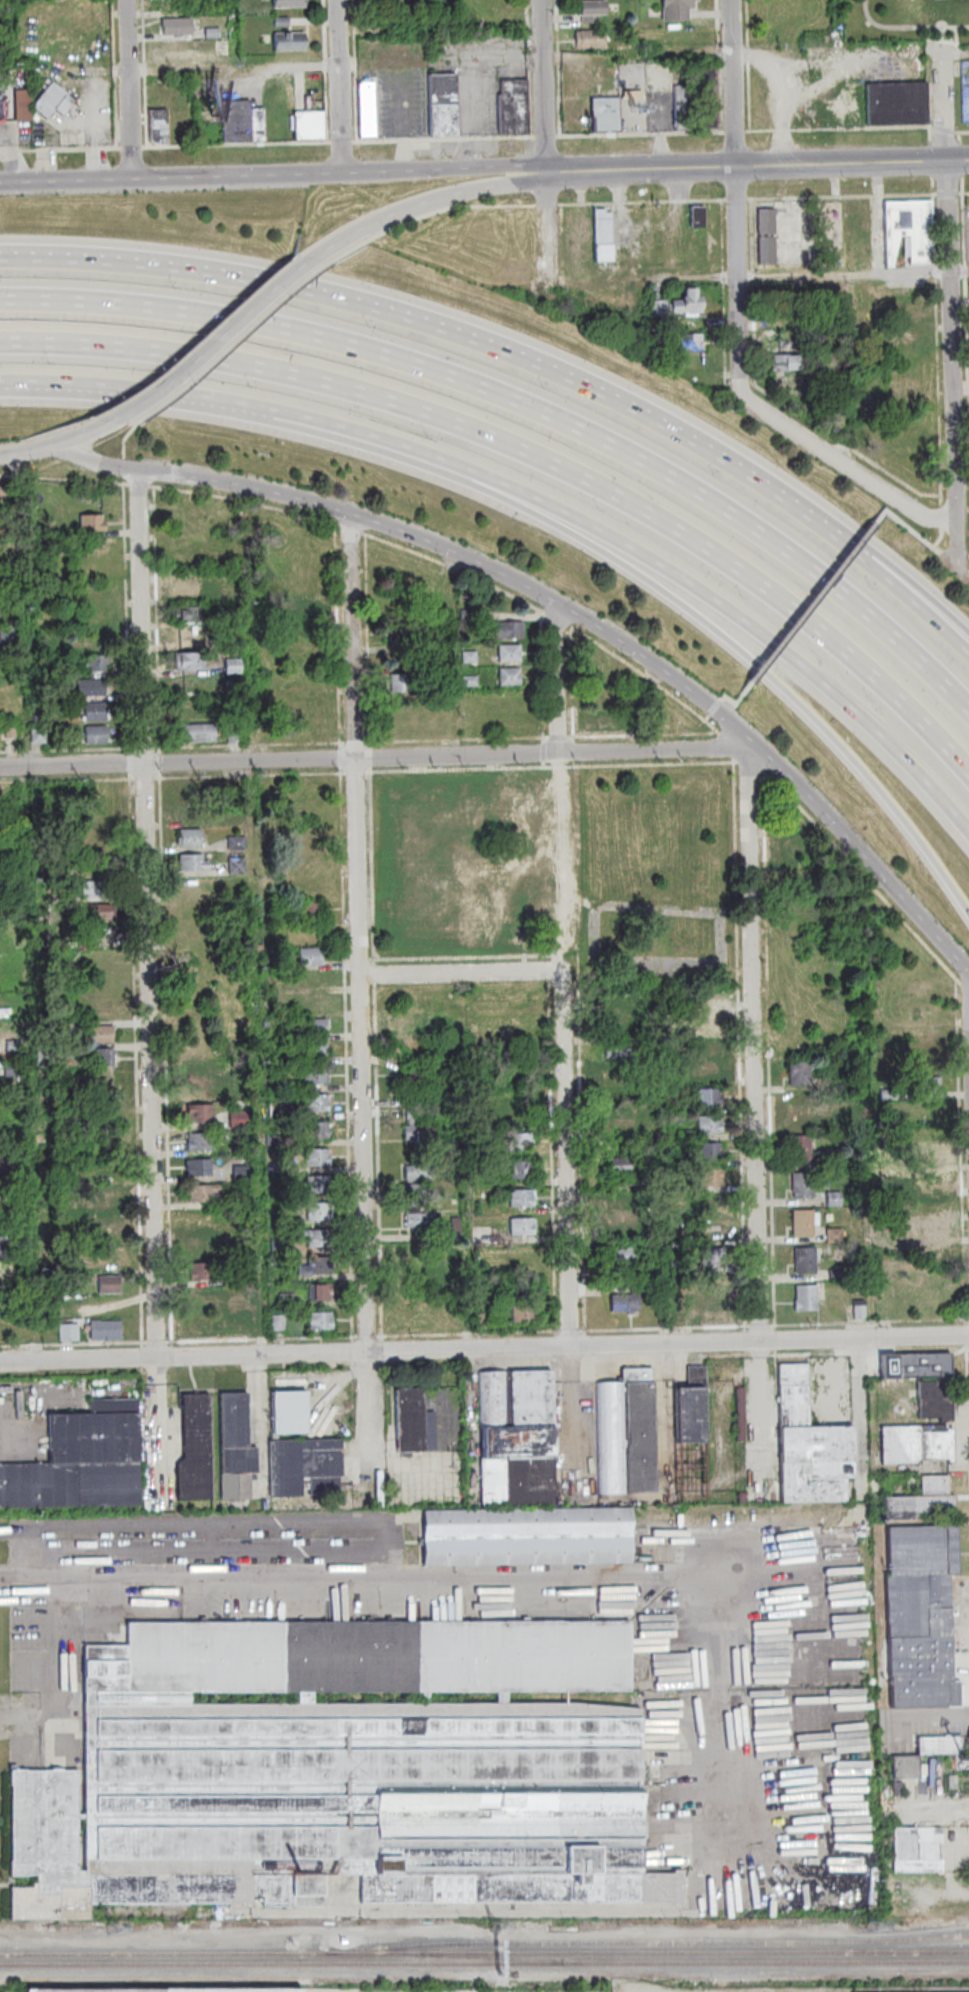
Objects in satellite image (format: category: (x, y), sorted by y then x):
building: (288, 3)
building: (676, 8)
building: (589, 9)
building: (281, 21)
park: (906, 21)
building: (177, 26)
road: (908, 28)
building: (212, 33)
building: (590, 38)
building: (289, 40)
road: (938, 41)
road: (957, 42)
road: (956, 56)
road: (749, 65)
road: (719, 66)
road: (233, 68)
road: (559, 68)
road: (529, 69)
road: (355, 71)
road: (545, 84)
road: (339, 86)
road: (127, 89)
building: (633, 94)
building: (708, 97)
building: (52, 100)
parking lot: (403, 102)
building: (827, 102)
building: (442, 104)
building: (896, 104)
building: (513, 107)
building: (681, 107)
building: (0, 110)
building: (367, 110)
building: (605, 114)
road: (404, 120)
building: (236, 121)
building: (309, 121)
building: (257, 124)
building: (158, 126)
road: (839, 129)
road: (943, 130)
road: (735, 132)
road: (962, 132)
road: (640, 134)
road: (546, 137)
road: (444, 139)
road: (342, 142)
road: (165, 145)
road: (14, 156)
road: (755, 164)
road: (271, 175)
road: (714, 199)
road: (419, 203)
road: (737, 213)
building: (697, 217)
building: (766, 221)
parking lot: (968, 224)
building: (602, 235)
building: (908, 235)
building: (766, 250)
road: (960, 272)
road: (844, 275)
building: (677, 305)
building: (787, 314)
road: (952, 316)
road: (424, 322)
road: (218, 336)
building: (789, 338)
building: (904, 338)
building: (690, 342)
building: (786, 363)
road: (961, 387)
road: (100, 388)
road: (526, 405)
road: (67, 439)
road: (530, 454)
road: (859, 475)
building: (5, 492)
building: (194, 520)
building: (91, 523)
road: (398, 529)
road: (941, 534)
road: (919, 535)
road: (622, 536)
building: (187, 546)
road: (892, 566)
road: (638, 572)
road: (891, 580)
road: (964, 581)
building: (186, 589)
building: (233, 599)
road: (814, 603)
building: (304, 610)
building: (468, 614)
building: (187, 615)
building: (424, 627)
building: (508, 630)
building: (400, 633)
building: (7, 634)
building: (189, 638)
building: (94, 640)
building: (34, 646)
building: (509, 654)
building: (469, 657)
building: (188, 661)
building: (97, 663)
building: (232, 667)
building: (509, 677)
road: (554, 677)
building: (470, 681)
building: (399, 683)
building: (229, 684)
building: (90, 688)
building: (606, 696)
road: (728, 697)
building: (509, 698)
building: (303, 708)
building: (94, 712)
road: (709, 715)
building: (39, 720)
building: (607, 720)
building: (9, 730)
building: (197, 733)
building: (95, 735)
building: (38, 736)
building: (234, 736)
road: (379, 757)
building: (534, 804)
building: (190, 814)
building: (310, 818)
building: (236, 821)
road: (846, 836)
building: (188, 839)
building: (92, 842)
building: (236, 844)
building: (795, 847)
road: (557, 861)
building: (192, 863)
building: (235, 866)
building: (418, 868)
building: (94, 890)
building: (99, 910)
building: (309, 912)
road: (356, 933)
building: (311, 958)
road: (456, 973)
building: (310, 979)
road: (147, 987)
building: (623, 1014)
building: (706, 1019)
building: (409, 1024)
building: (445, 1028)
building: (313, 1029)
building: (102, 1035)
building: (709, 1044)
building: (13, 1046)
building: (619, 1049)
road: (756, 1049)
building: (313, 1052)
building: (102, 1058)
building: (926, 1061)
building: (12, 1069)
building: (709, 1069)
building: (517, 1072)
building: (800, 1074)
building: (316, 1077)
building: (619, 1078)
building: (197, 1079)
building: (416, 1082)
building: (280, 1086)
building: (928, 1086)
building: (889, 1095)
building: (708, 1098)
building: (411, 1102)
building: (316, 1104)
building: (277, 1109)
building: (798, 1112)
building: (519, 1114)
building: (198, 1115)
building: (239, 1120)
building: (617, 1123)
building: (488, 1125)
building: (709, 1125)
building: (830, 1125)
building: (94, 1129)
building: (416, 1129)
building: (317, 1131)
building: (685, 1136)
building: (273, 1141)
building: (520, 1142)
building: (199, 1143)
building: (800, 1149)
building: (710, 1152)
road: (564, 1157)
building: (927, 1157)
building: (15, 1158)
building: (317, 1158)
building: (503, 1164)
building: (622, 1166)
building: (199, 1168)
building: (520, 1171)
building: (419, 1172)
building: (241, 1174)
building: (711, 1178)
building: (925, 1182)
building: (317, 1185)
building: (802, 1186)
building: (418, 1189)
building: (202, 1194)
building: (619, 1195)
building: (522, 1199)
building: (834, 1200)
building: (237, 1202)
building: (107, 1204)
building: (712, 1205)
building: (319, 1212)
building: (623, 1217)
building: (420, 1222)
building: (804, 1223)
building: (522, 1227)
building: (929, 1230)
building: (109, 1231)
building: (453, 1231)
building: (834, 1236)
building: (314, 1238)
building: (19, 1239)
building: (201, 1247)
building: (278, 1247)
building: (236, 1253)
building: (627, 1256)
building: (712, 1258)
building: (806, 1261)
building: (678, 1265)
building: (317, 1268)
building: (419, 1269)
building: (202, 1273)
building: (232, 1279)
building: (108, 1285)
building: (320, 1293)
building: (201, 1296)
building: (806, 1299)
building: (287, 1301)
building: (626, 1303)
building: (859, 1310)
building: (713, 1312)
building: (523, 1314)
building: (321, 1322)
building: (480, 1322)
building: (201, 1324)
building: (278, 1325)
building: (105, 1331)
building: (68, 1333)
road: (484, 1348)
building: (916, 1367)
road: (572, 1400)
building: (936, 1402)
building: (691, 1409)
road: (760, 1411)
road: (369, 1413)
building: (739, 1413)
building: (290, 1415)
building: (413, 1424)
building: (639, 1432)
road: (22, 1435)
building: (236, 1437)
building: (611, 1439)
building: (517, 1440)
building: (917, 1445)
building: (810, 1448)
building: (196, 1451)
building: (82, 1462)
building: (305, 1468)
building: (924, 1503)
road: (207, 1526)
road: (850, 1528)
building: (526, 1537)
road: (484, 1575)
building: (922, 1618)
road: (63, 1644)
building: (378, 1658)
building: (940, 1748)
building: (906, 1769)
building: (361, 1802)
building: (47, 1849)
building: (918, 1852)
power tower: (874, 1925)
power tower: (493, 1926)
power tower: (114, 1930)
railway: (646, 1941)
railway: (646, 1951)
railway: (162, 1953)
railway: (484, 1962)
building: (165, 1990)

